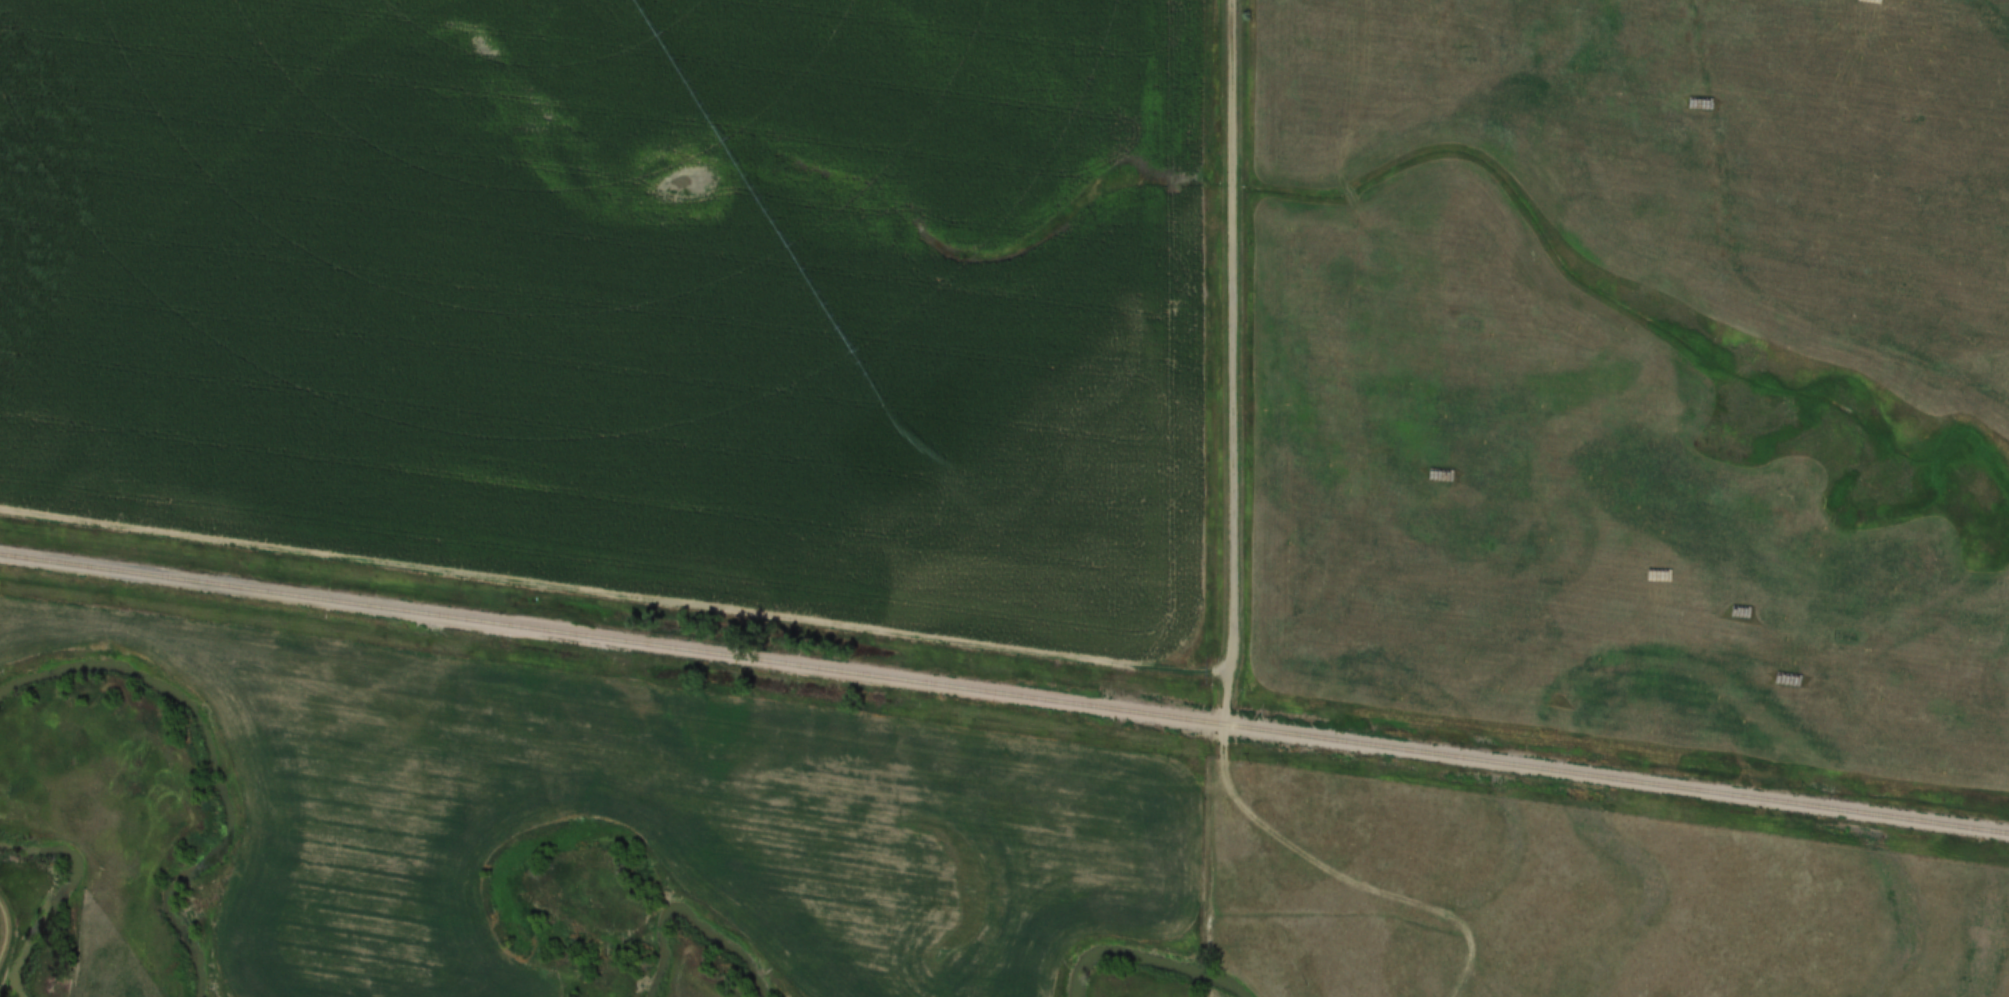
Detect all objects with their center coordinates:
road: (1222, 359)
road: (610, 589)
railway: (1004, 692)
road: (1295, 845)

